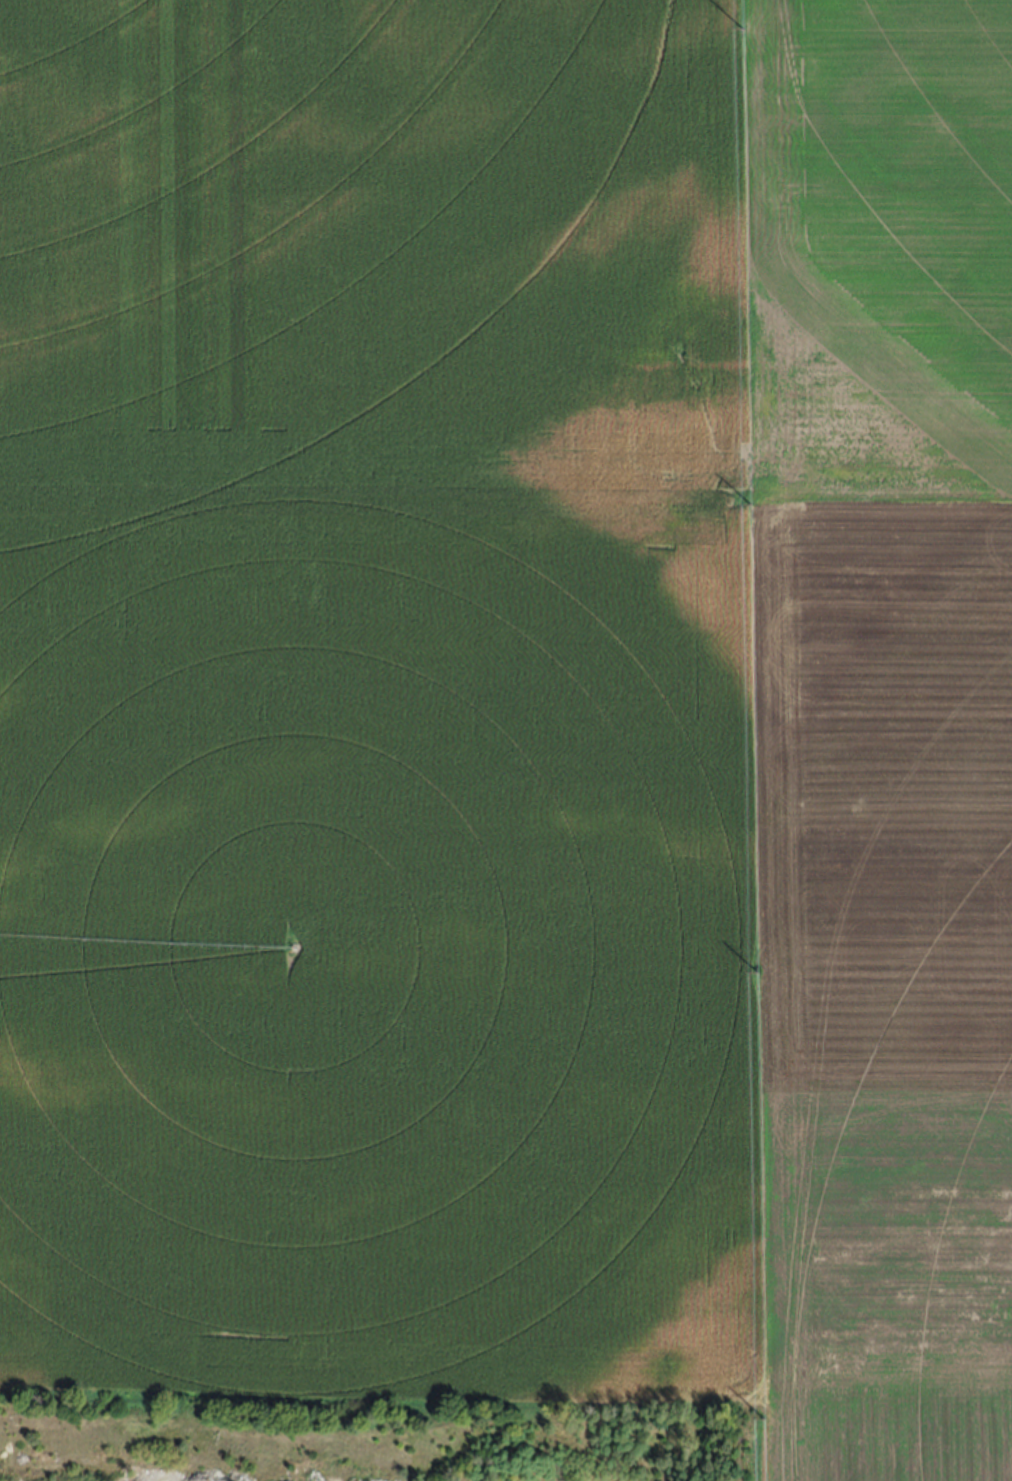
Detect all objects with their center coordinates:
quarry: (359, 1444)

